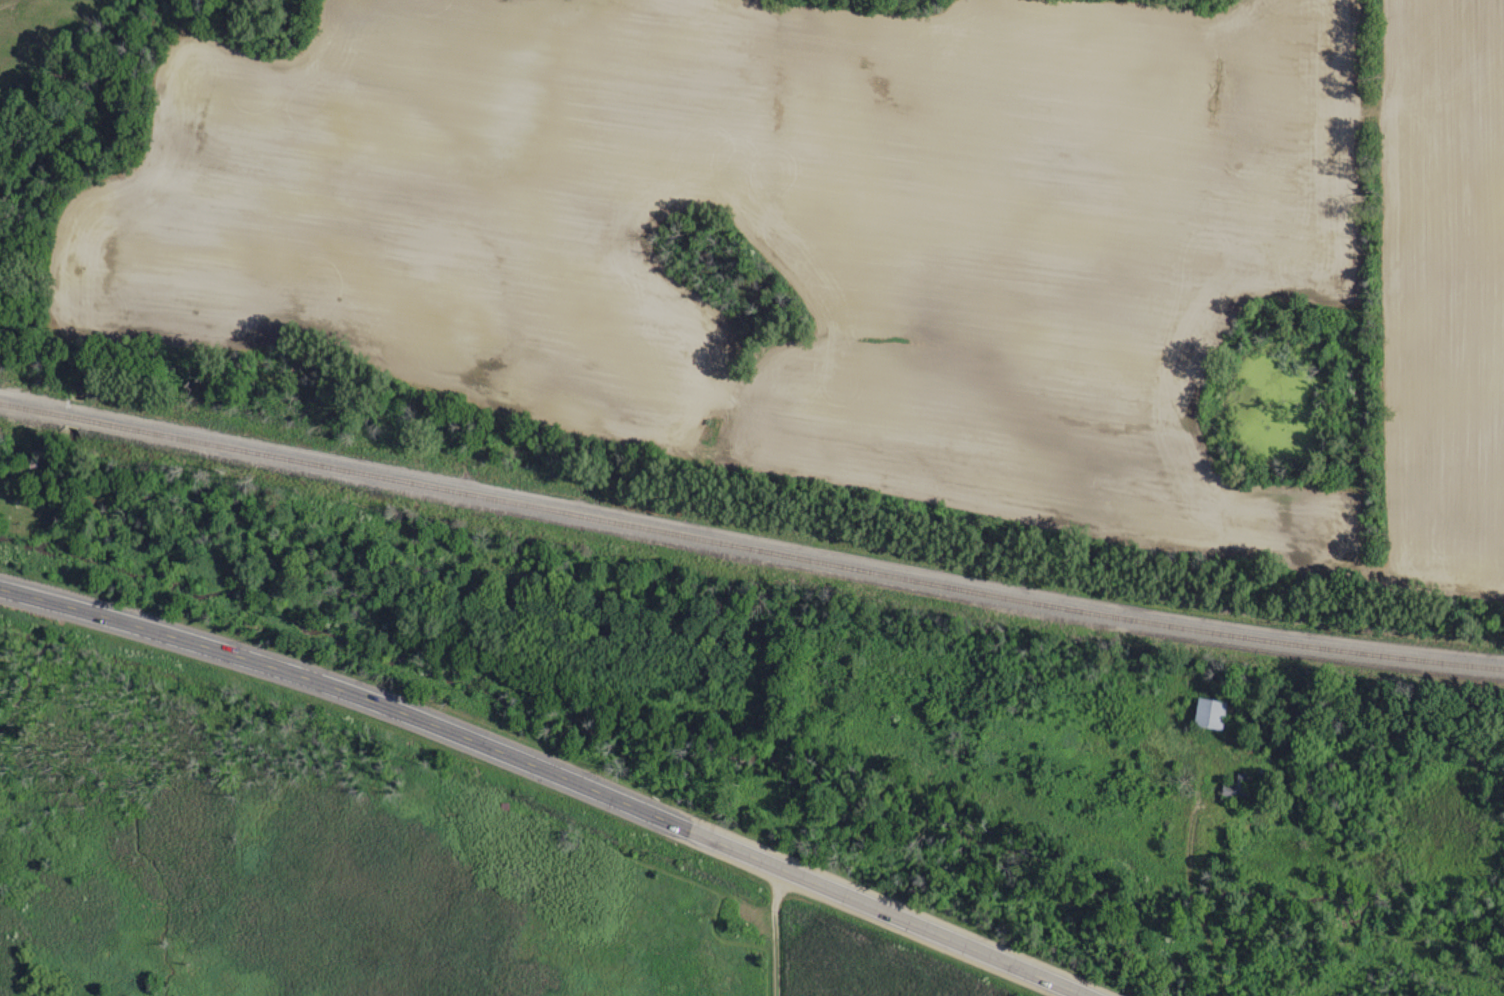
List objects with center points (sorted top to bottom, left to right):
river: (54, 360)
river: (77, 411)
railway: (749, 546)
building: (1207, 712)
river: (748, 761)
road: (552, 771)
river: (1498, 784)
building: (1233, 786)
road: (777, 930)

